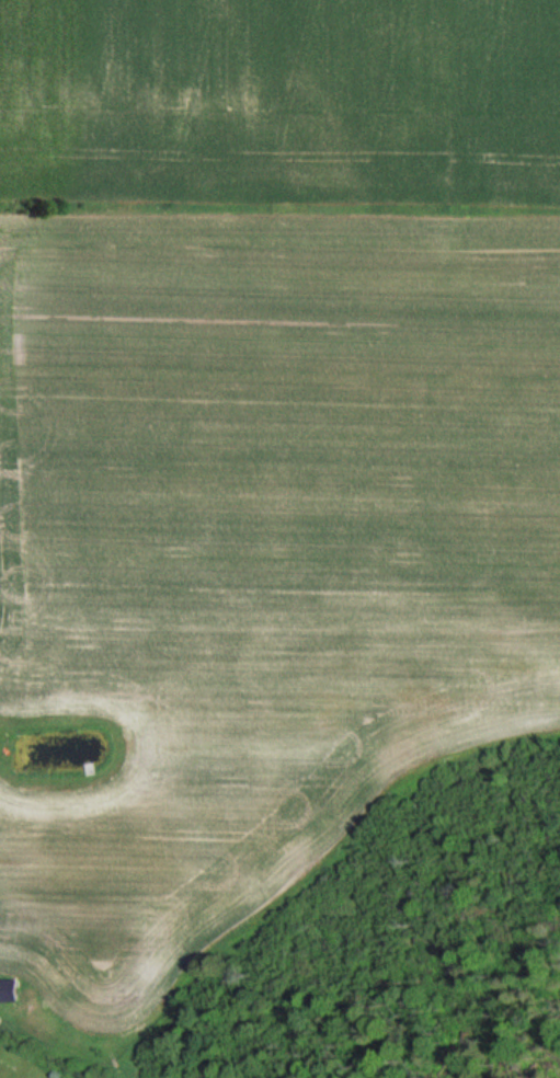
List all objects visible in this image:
building: (12, 990)

